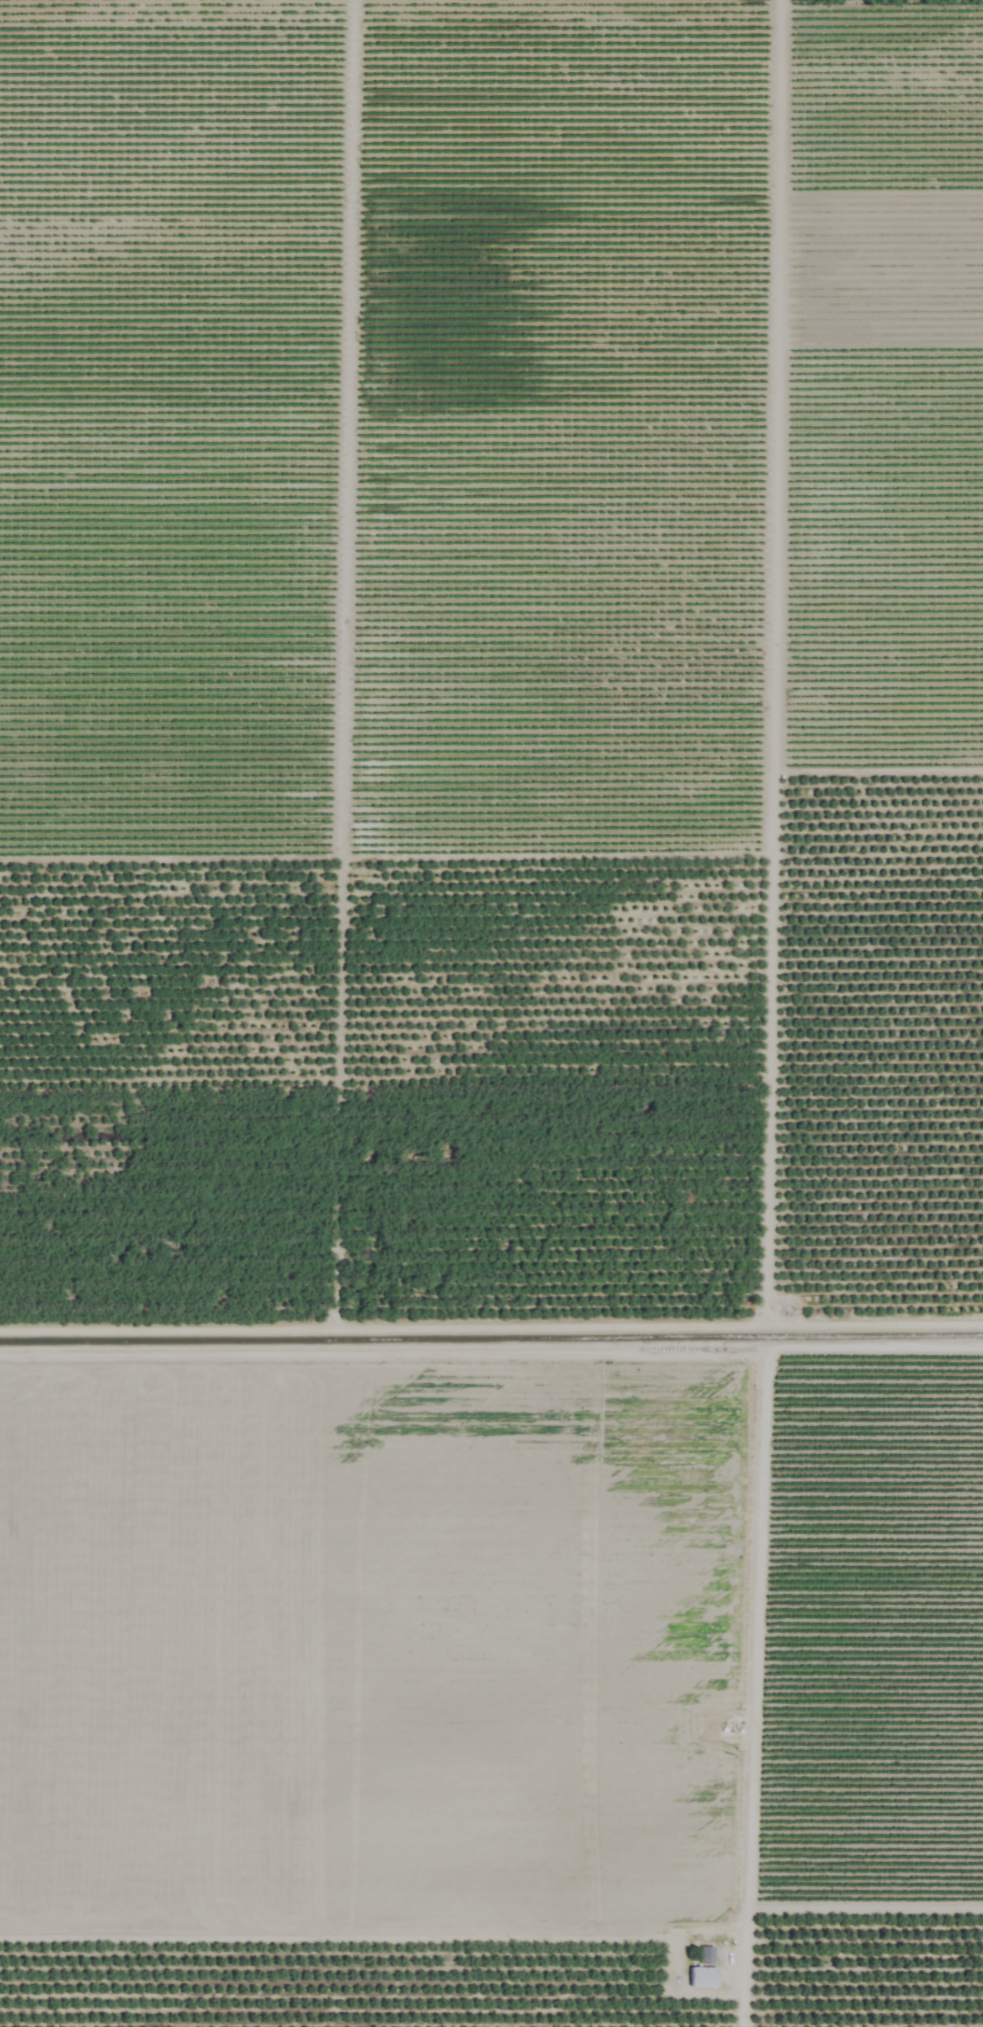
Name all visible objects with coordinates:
road: (772, 664)
road: (752, 1689)

